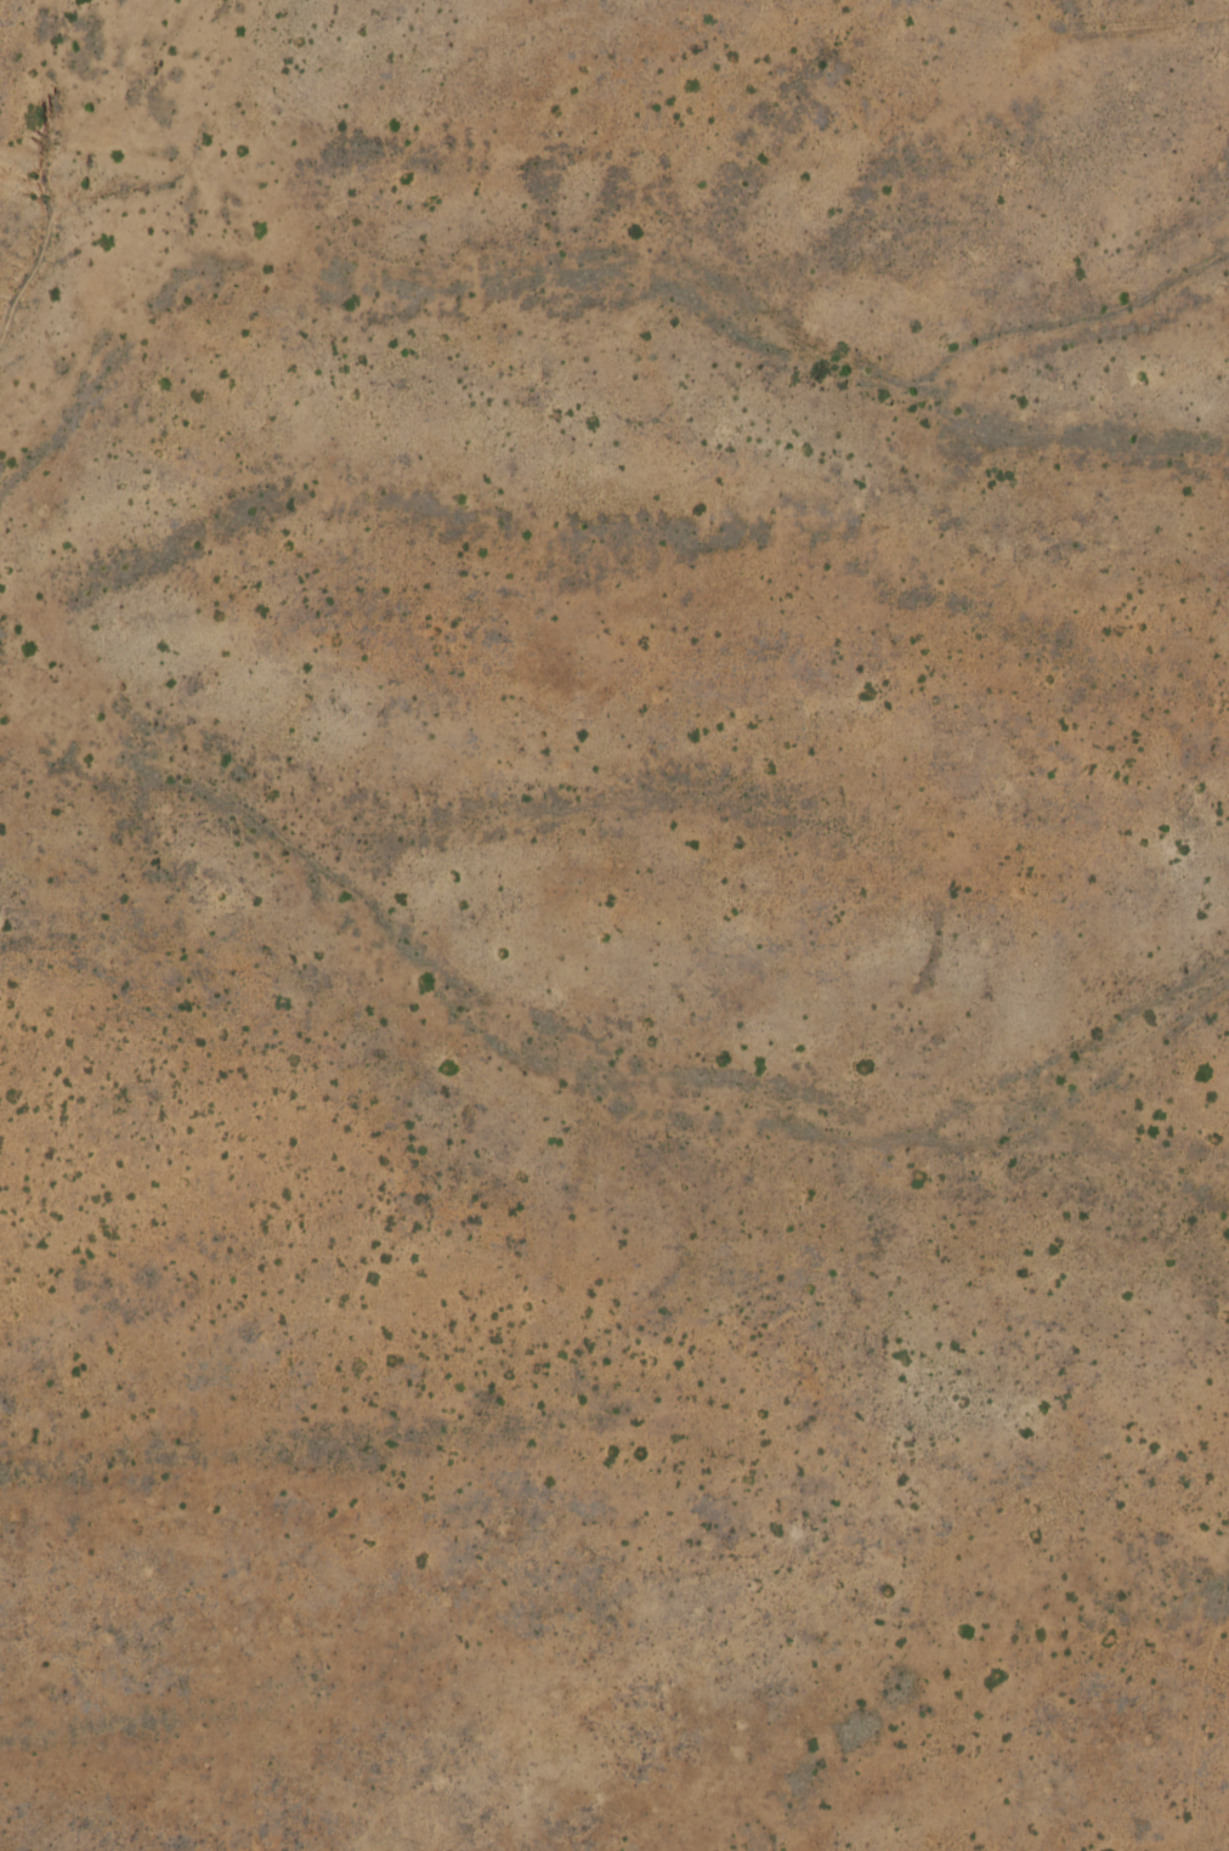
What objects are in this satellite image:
road: (964, 52)

